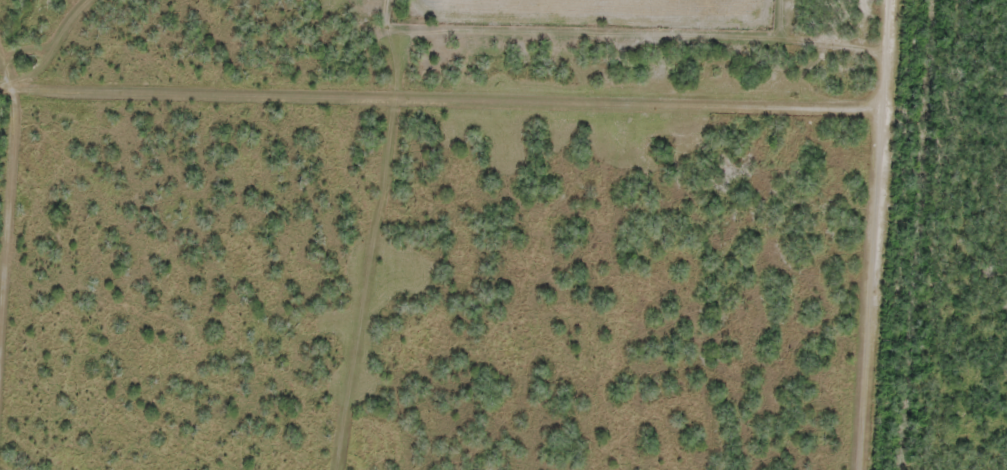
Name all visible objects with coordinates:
road: (1002, 405)

